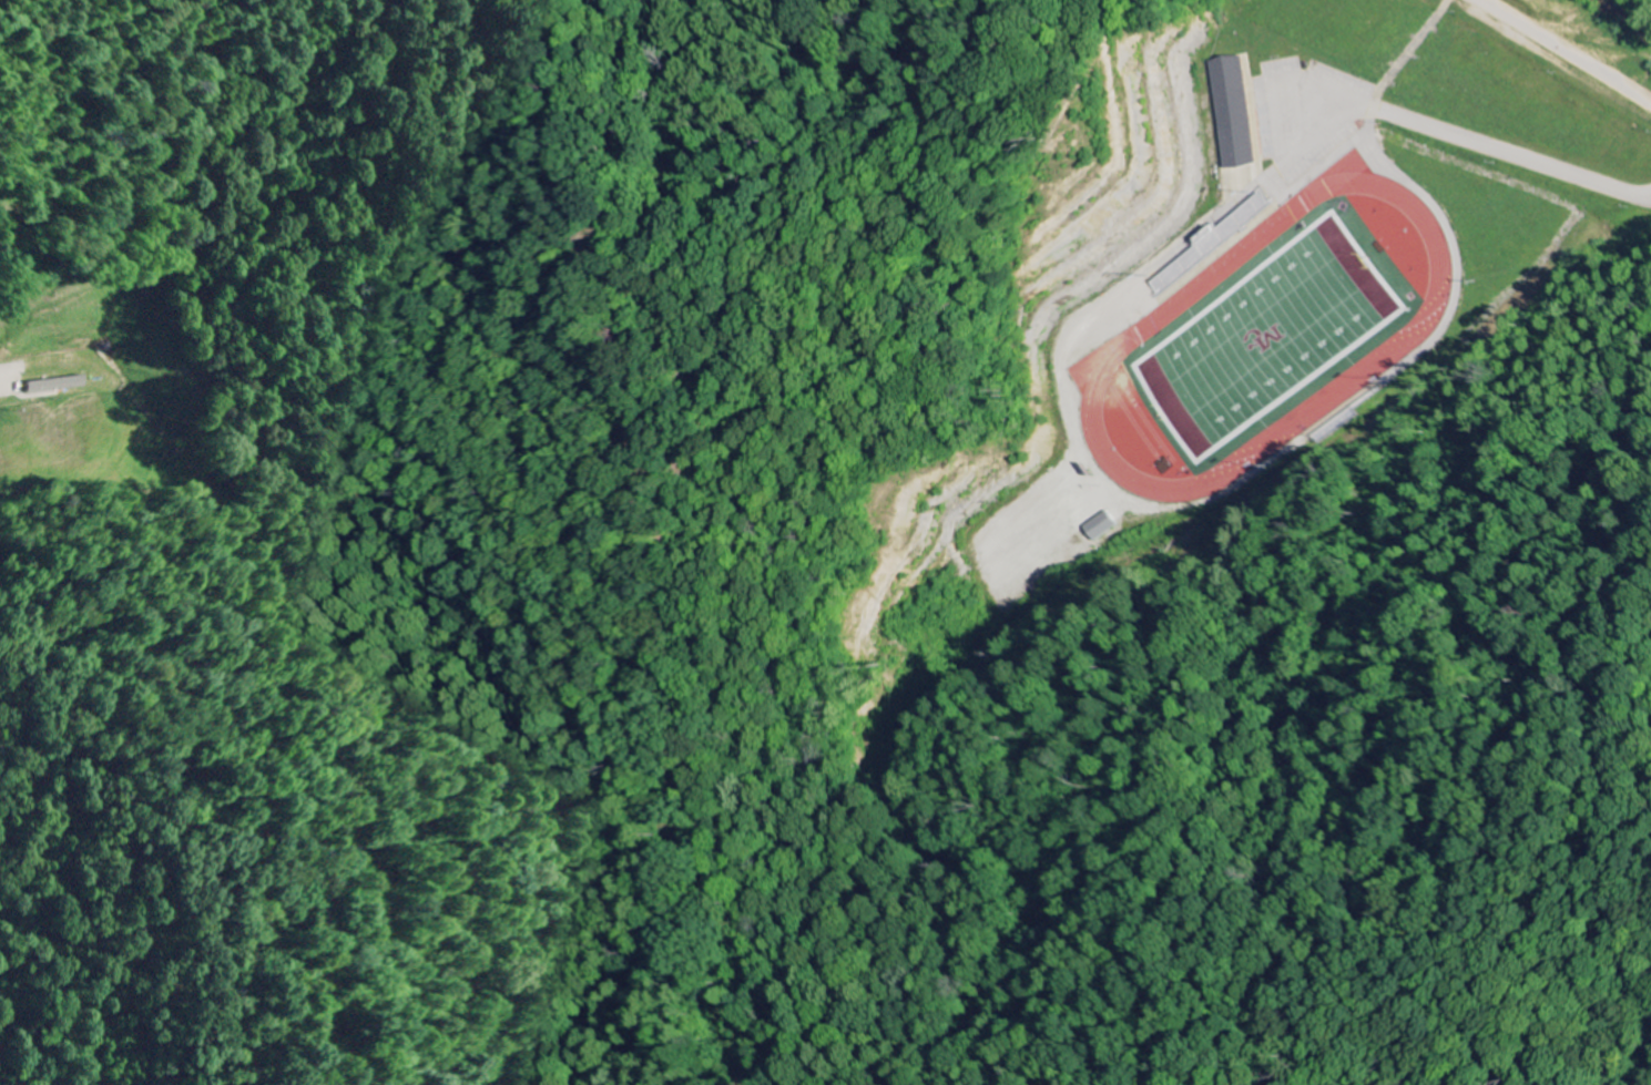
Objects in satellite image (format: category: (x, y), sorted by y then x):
river: (1632, 16)
building: (1226, 113)
park: (1268, 335)
building: (60, 386)
building: (1099, 528)

